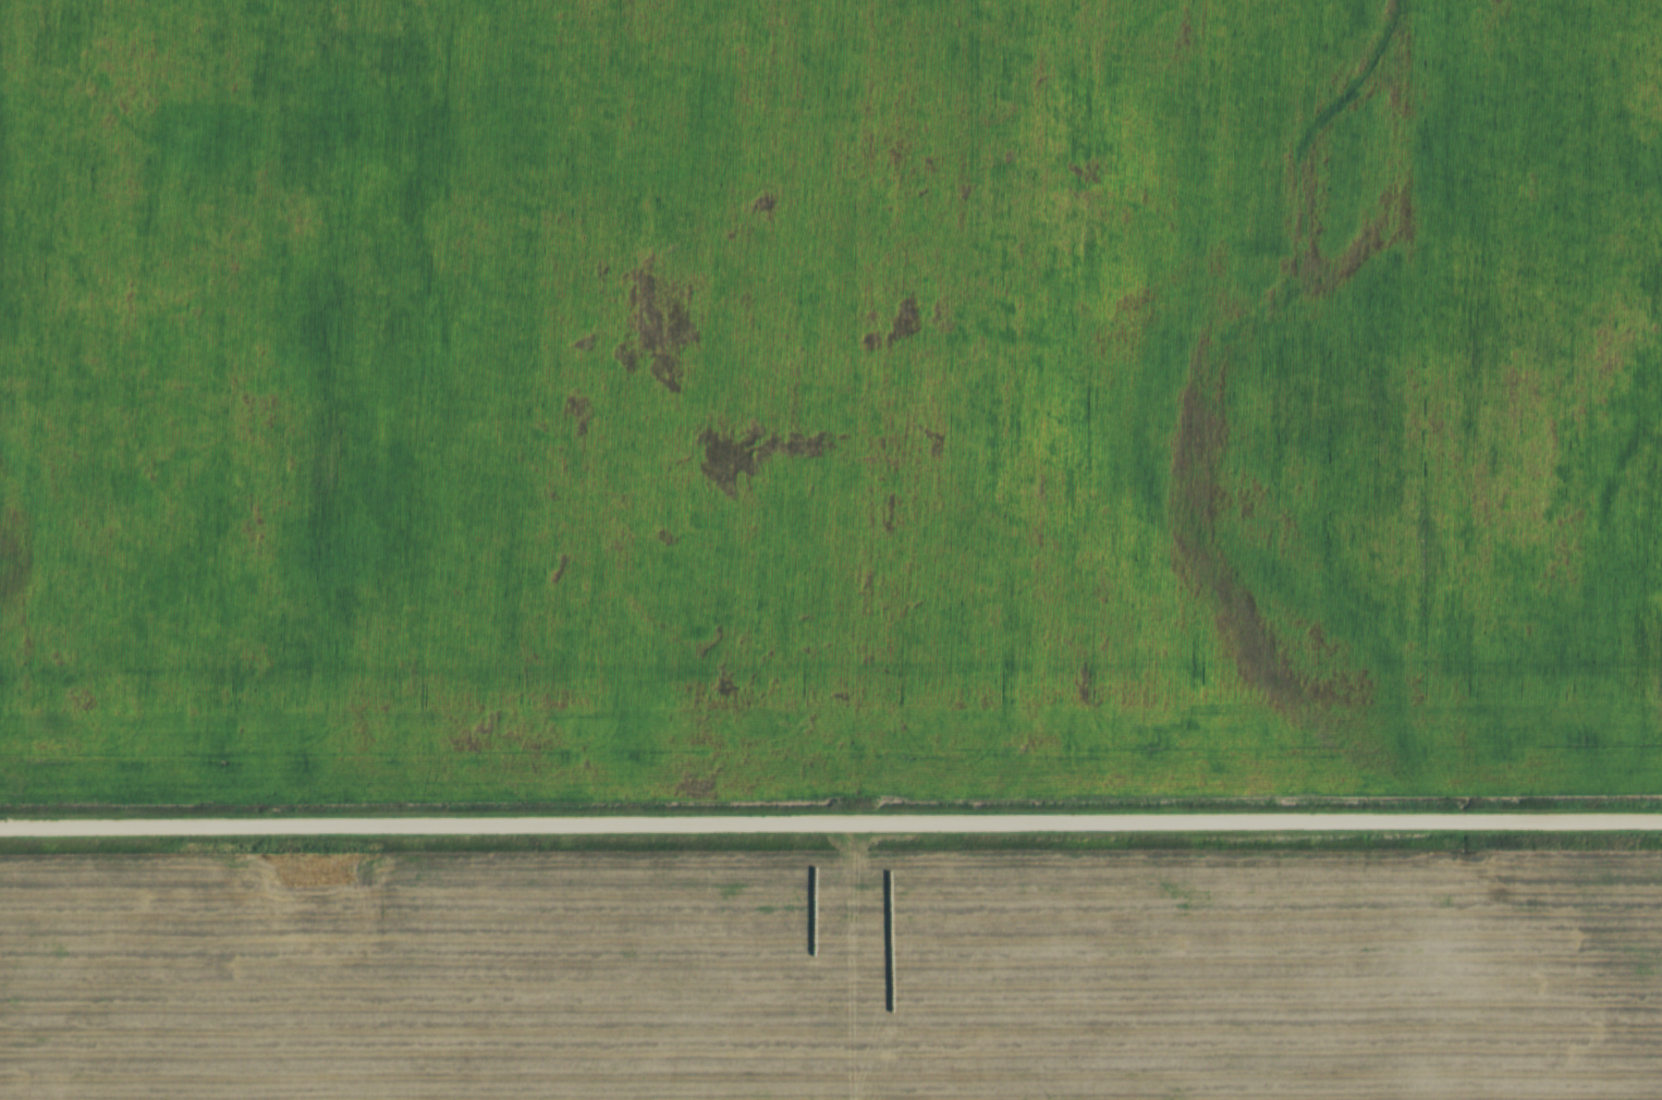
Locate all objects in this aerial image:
road: (831, 824)

